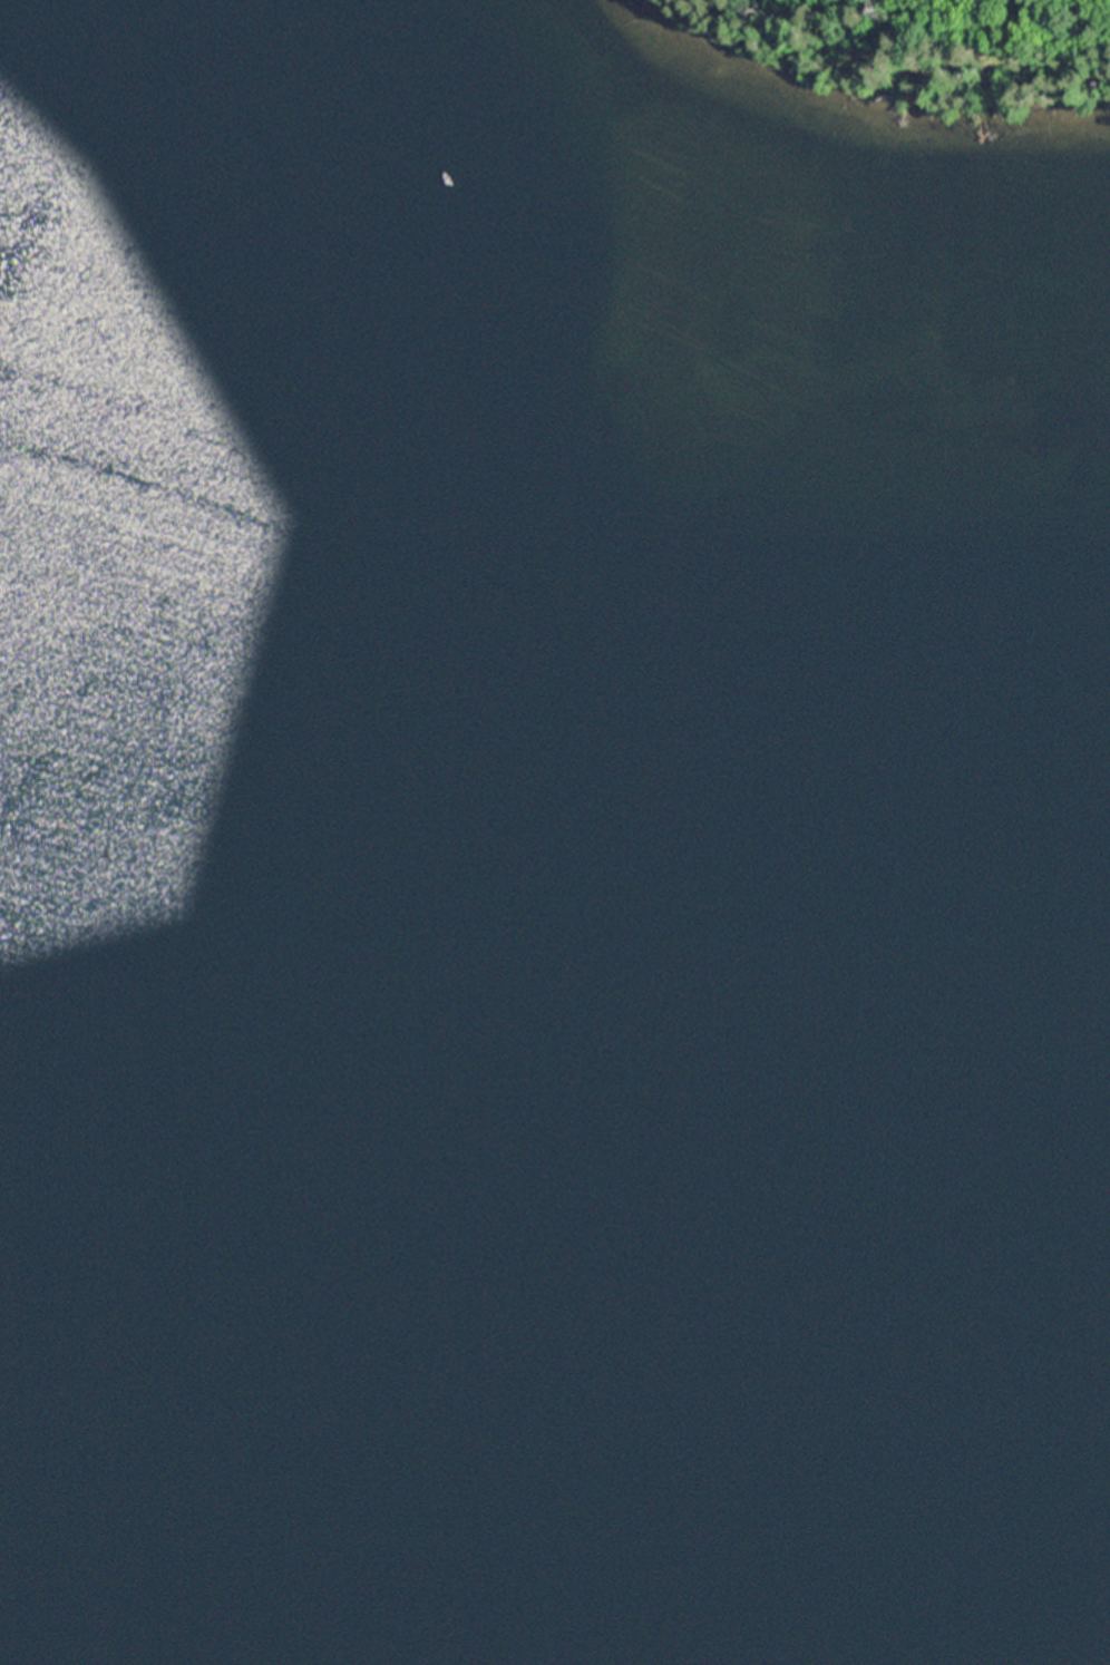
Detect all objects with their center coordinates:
river: (575, 904)

